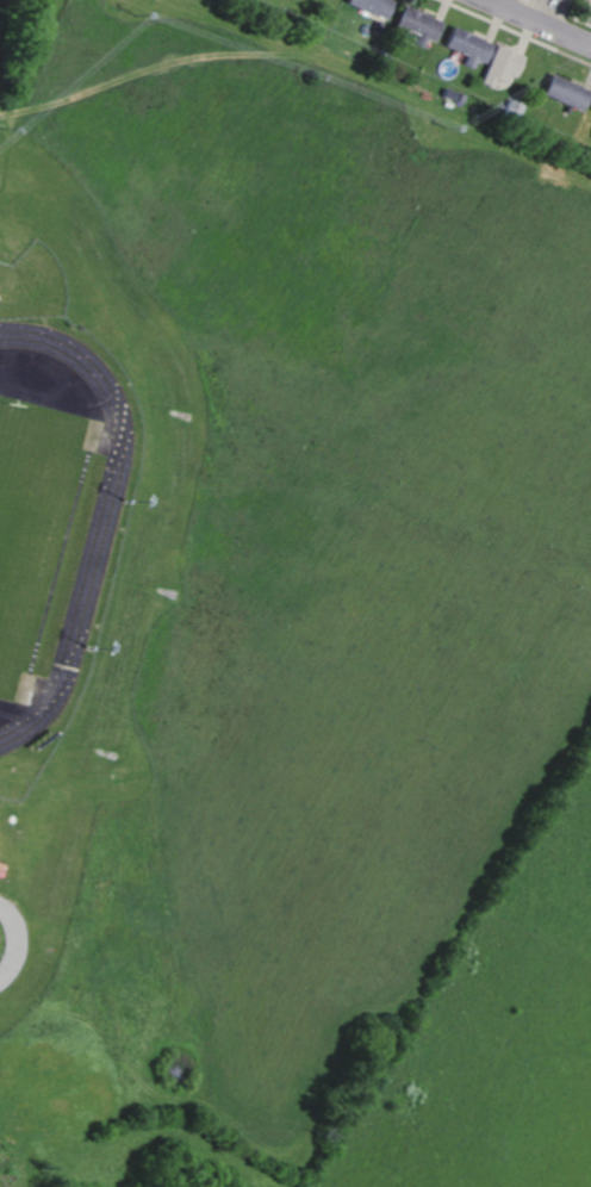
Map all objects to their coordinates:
building: (369, 6)
road: (542, 20)
building: (416, 24)
building: (465, 45)
building: (499, 66)
building: (564, 92)
building: (511, 108)
stadium: (55, 504)
park: (25, 509)
track: (49, 511)
track: (62, 560)
track: (8, 713)
road: (20, 941)

